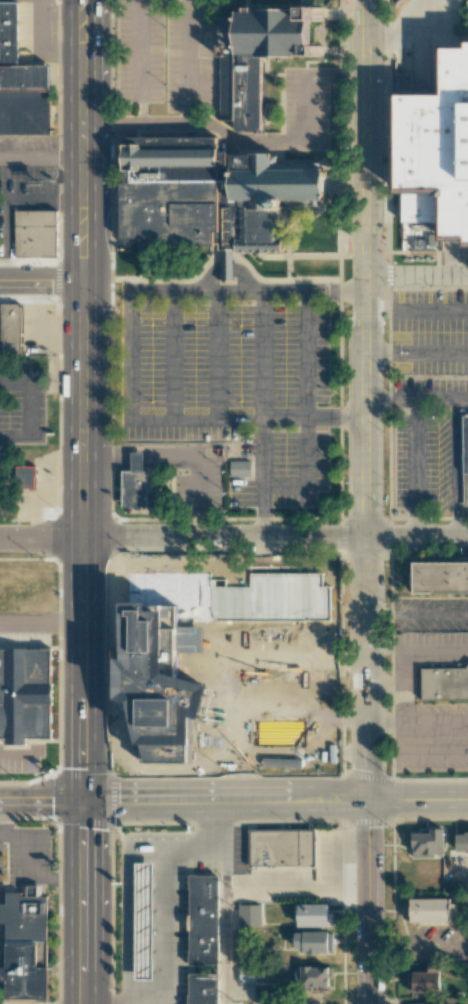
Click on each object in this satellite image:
road: (187, 2)
parking lot: (447, 19)
road: (415, 33)
parking lot: (139, 51)
building: (257, 53)
parking lot: (188, 61)
road: (138, 62)
road: (187, 63)
road: (335, 73)
building: (21, 81)
road: (305, 106)
parking lot: (305, 108)
road: (196, 123)
building: (439, 147)
road: (41, 157)
parking lot: (27, 178)
building: (207, 194)
building: (35, 233)
road: (226, 270)
road: (416, 275)
road: (41, 282)
road: (246, 292)
road: (421, 312)
building: (11, 328)
parking lot: (39, 328)
parking lot: (431, 329)
road: (416, 352)
road: (127, 355)
road: (171, 355)
road: (215, 355)
road: (262, 355)
road: (304, 356)
parking lot: (231, 389)
parking lot: (429, 392)
road: (416, 397)
road: (365, 399)
road: (82, 400)
parking lot: (18, 410)
road: (181, 419)
road: (300, 419)
road: (305, 453)
road: (139, 456)
building: (464, 460)
parking lot: (425, 461)
road: (262, 465)
building: (238, 468)
building: (24, 476)
parking lot: (196, 480)
road: (283, 487)
building: (135, 490)
road: (196, 498)
road: (262, 525)
road: (234, 539)
building: (443, 577)
building: (264, 584)
building: (205, 585)
building: (303, 590)
parking lot: (430, 615)
road: (41, 627)
building: (303, 636)
parking lot: (430, 647)
building: (217, 651)
building: (442, 684)
building: (26, 694)
parking lot: (431, 737)
road: (17, 756)
parking lot: (19, 760)
road: (275, 799)
road: (41, 800)
traffic signals: (83, 801)
building: (461, 841)
building: (427, 843)
building: (282, 848)
road: (296, 891)
road: (225, 901)
road: (368, 901)
road: (83, 902)
building: (431, 909)
building: (312, 914)
building: (143, 920)
building: (205, 920)
building: (313, 942)
building: (26, 943)
road: (418, 943)
building: (311, 976)
building: (423, 981)
building: (204, 989)
building: (427, 1003)

